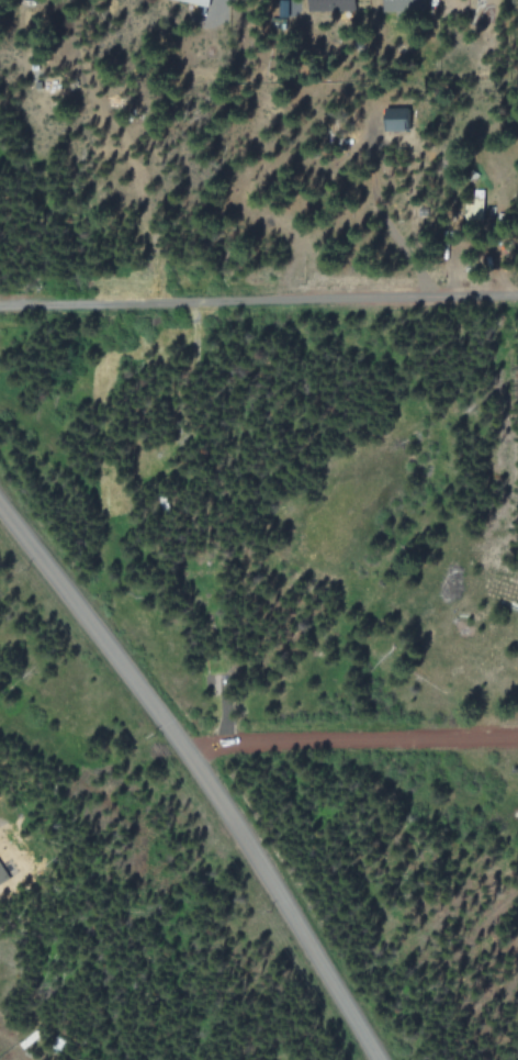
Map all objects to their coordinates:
building: (199, 2)
building: (405, 4)
building: (398, 120)
road: (259, 304)
road: (356, 747)
road: (204, 772)
building: (2, 874)

